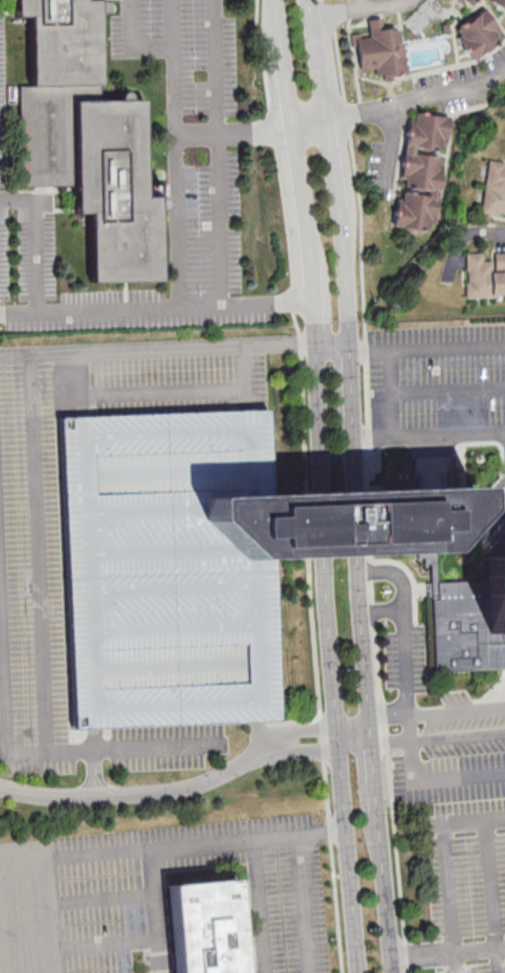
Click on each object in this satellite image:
building: (466, 3)
road: (359, 4)
building: (499, 4)
road: (360, 7)
building: (477, 34)
building: (382, 50)
road: (400, 104)
road: (175, 105)
parking lot: (203, 125)
building: (85, 134)
building: (420, 170)
building: (494, 190)
road: (178, 221)
road: (459, 239)
road: (342, 243)
road: (306, 244)
building: (484, 274)
road: (154, 306)
road: (331, 344)
road: (426, 348)
road: (156, 350)
parking lot: (436, 376)
road: (392, 394)
road: (429, 436)
road: (305, 485)
road: (369, 485)
building: (338, 520)
road: (359, 521)
road: (321, 522)
road: (40, 554)
parking lot: (31, 568)
building: (162, 569)
parking lot: (162, 569)
building: (470, 592)
road: (384, 612)
road: (404, 640)
road: (381, 716)
road: (439, 739)
road: (317, 746)
road: (18, 753)
road: (374, 763)
road: (339, 764)
parking lot: (451, 769)
road: (437, 781)
road: (136, 792)
road: (186, 847)
road: (74, 859)
road: (441, 865)
parking lot: (161, 896)
parking lot: (462, 897)
road: (490, 897)
road: (301, 905)
road: (259, 907)
building: (204, 927)
road: (448, 950)

